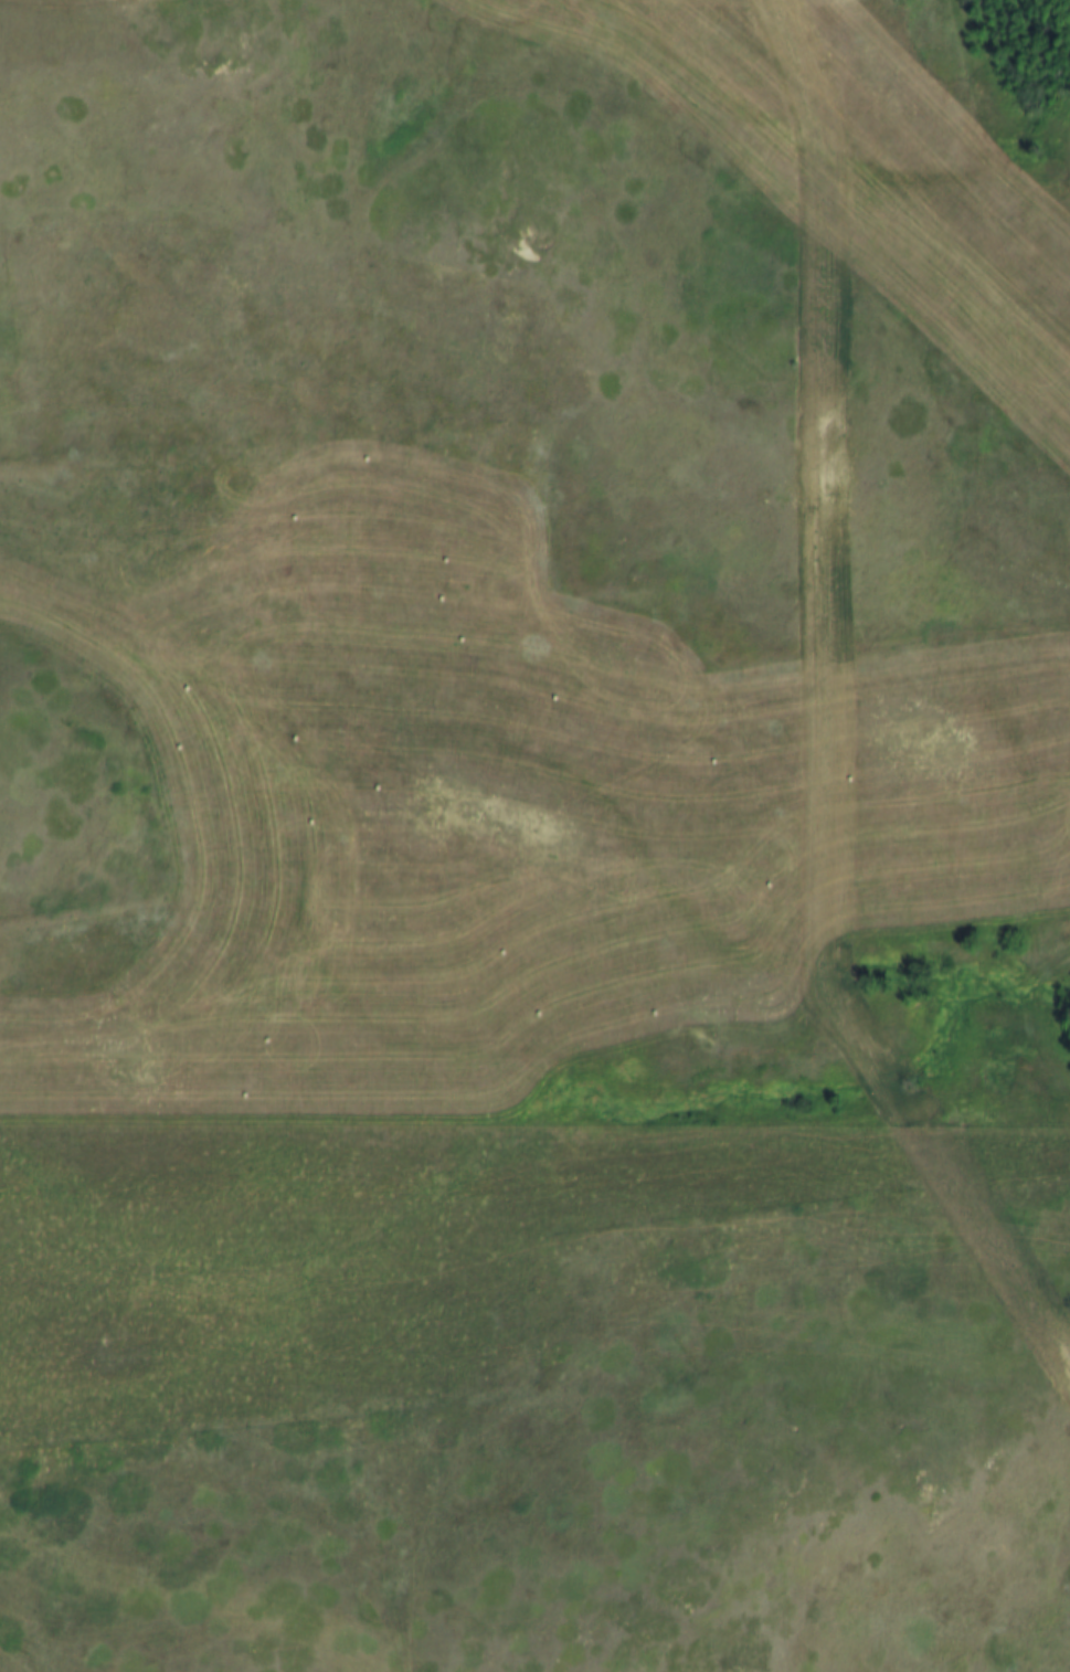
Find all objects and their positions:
road: (814, 244)
road: (1052, 965)

